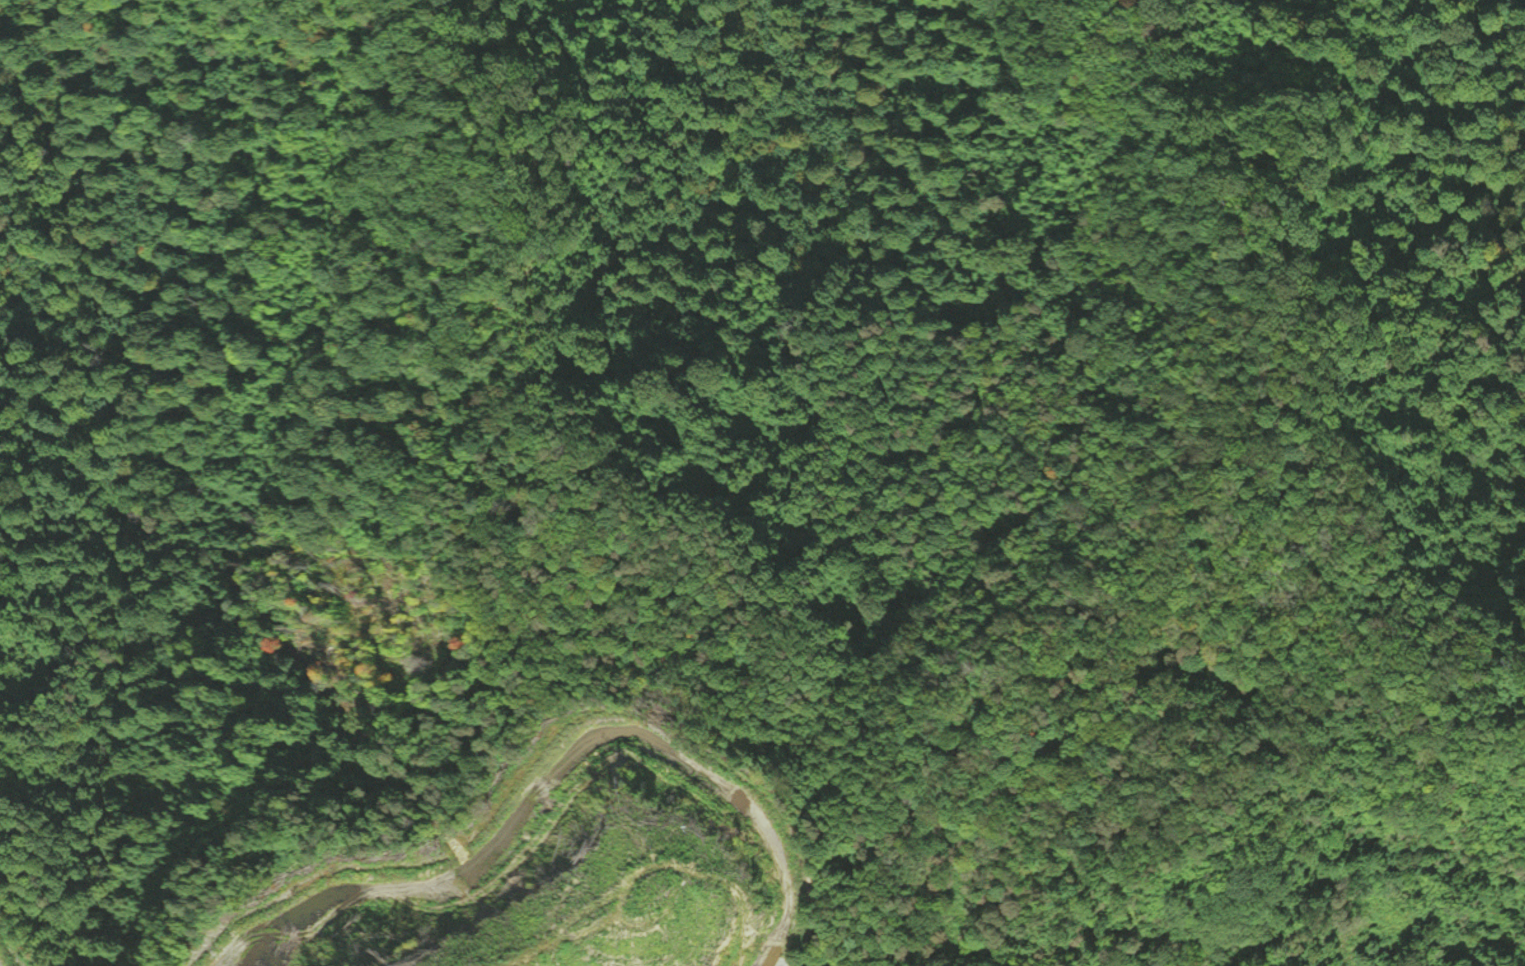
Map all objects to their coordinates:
quarry: (538, 893)

